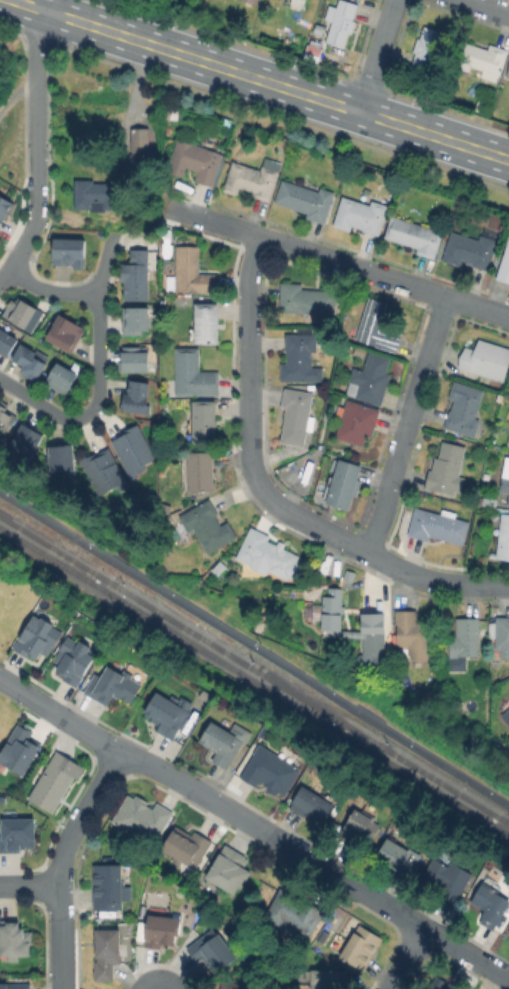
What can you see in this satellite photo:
building: (303, 0)
road: (490, 6)
building: (341, 21)
building: (319, 28)
building: (426, 49)
building: (313, 53)
road: (376, 56)
building: (483, 59)
building: (508, 73)
road: (259, 79)
road: (16, 94)
road: (126, 106)
building: (172, 112)
building: (140, 140)
road: (36, 149)
building: (196, 161)
building: (253, 179)
building: (100, 194)
building: (306, 200)
building: (4, 203)
building: (360, 215)
building: (414, 235)
building: (471, 249)
building: (68, 250)
road: (334, 261)
building: (505, 266)
building: (190, 272)
building: (138, 277)
road: (47, 291)
building: (306, 299)
building: (18, 309)
building: (139, 322)
building: (207, 323)
building: (378, 325)
building: (64, 330)
building: (7, 343)
building: (299, 355)
building: (28, 359)
road: (246, 359)
building: (486, 360)
building: (137, 361)
road: (98, 373)
building: (194, 374)
building: (59, 377)
building: (370, 379)
building: (138, 399)
building: (464, 409)
building: (297, 416)
building: (4, 417)
building: (201, 420)
building: (356, 422)
road: (406, 424)
building: (29, 442)
building: (508, 442)
building: (136, 452)
building: (65, 461)
building: (447, 469)
building: (201, 470)
building: (106, 473)
building: (505, 477)
building: (342, 483)
building: (488, 502)
building: (508, 503)
building: (165, 507)
building: (207, 525)
building: (438, 525)
building: (502, 539)
building: (265, 553)
road: (372, 555)
building: (332, 610)
building: (499, 634)
building: (38, 636)
building: (411, 637)
building: (465, 639)
building: (373, 642)
road: (255, 645)
building: (74, 661)
railway: (254, 669)
railway: (254, 681)
building: (109, 688)
building: (167, 715)
building: (507, 715)
building: (223, 746)
building: (18, 750)
building: (270, 771)
building: (56, 783)
building: (315, 801)
building: (144, 819)
building: (362, 826)
road: (256, 828)
building: (18, 835)
building: (186, 848)
building: (397, 859)
road: (59, 863)
building: (232, 872)
building: (446, 878)
road: (29, 886)
building: (109, 888)
building: (490, 902)
building: (294, 913)
building: (508, 930)
building: (159, 931)
building: (508, 933)
building: (15, 941)
building: (362, 946)
building: (210, 951)
building: (107, 955)
road: (404, 958)
building: (326, 979)
building: (231, 985)
building: (443, 985)
building: (14, 987)

